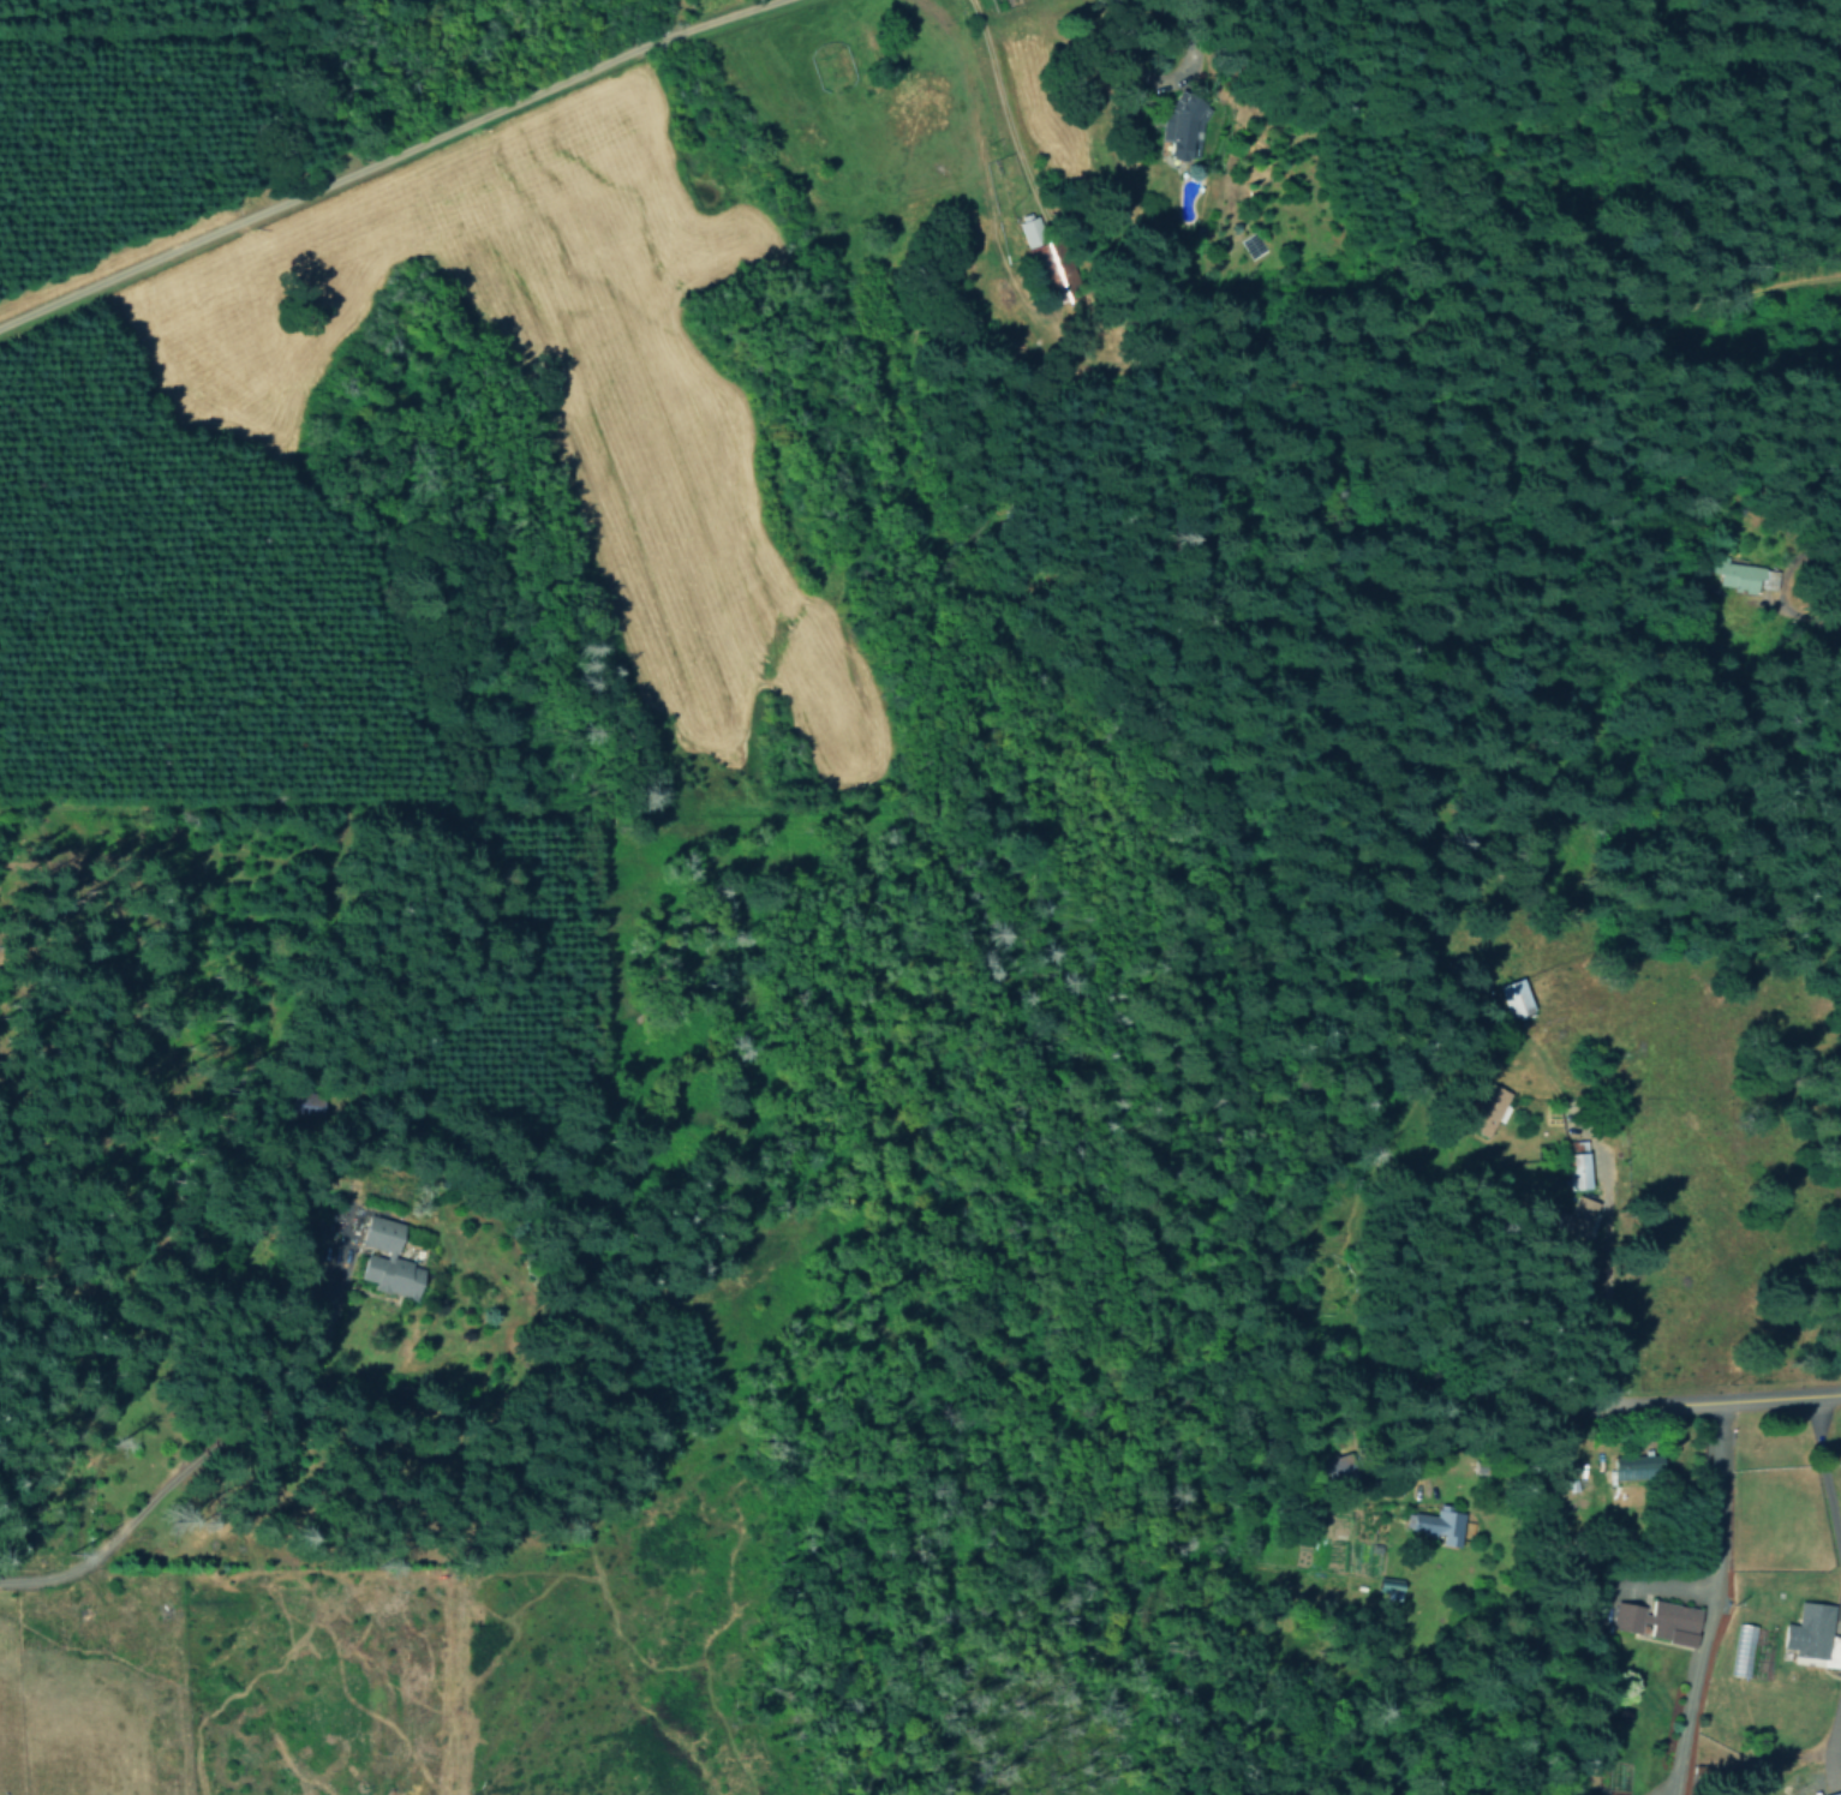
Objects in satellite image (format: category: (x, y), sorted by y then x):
road: (1034, 106)
building: (1180, 126)
road: (398, 160)
building: (1738, 575)
road: (1809, 635)
building: (1513, 997)
building: (1483, 1109)
building: (1573, 1169)
building: (1573, 1216)
building: (383, 1258)
road: (1692, 1400)
building: (1632, 1466)
building: (1436, 1525)
building: (1657, 1620)
building: (1809, 1634)
building: (1741, 1650)

